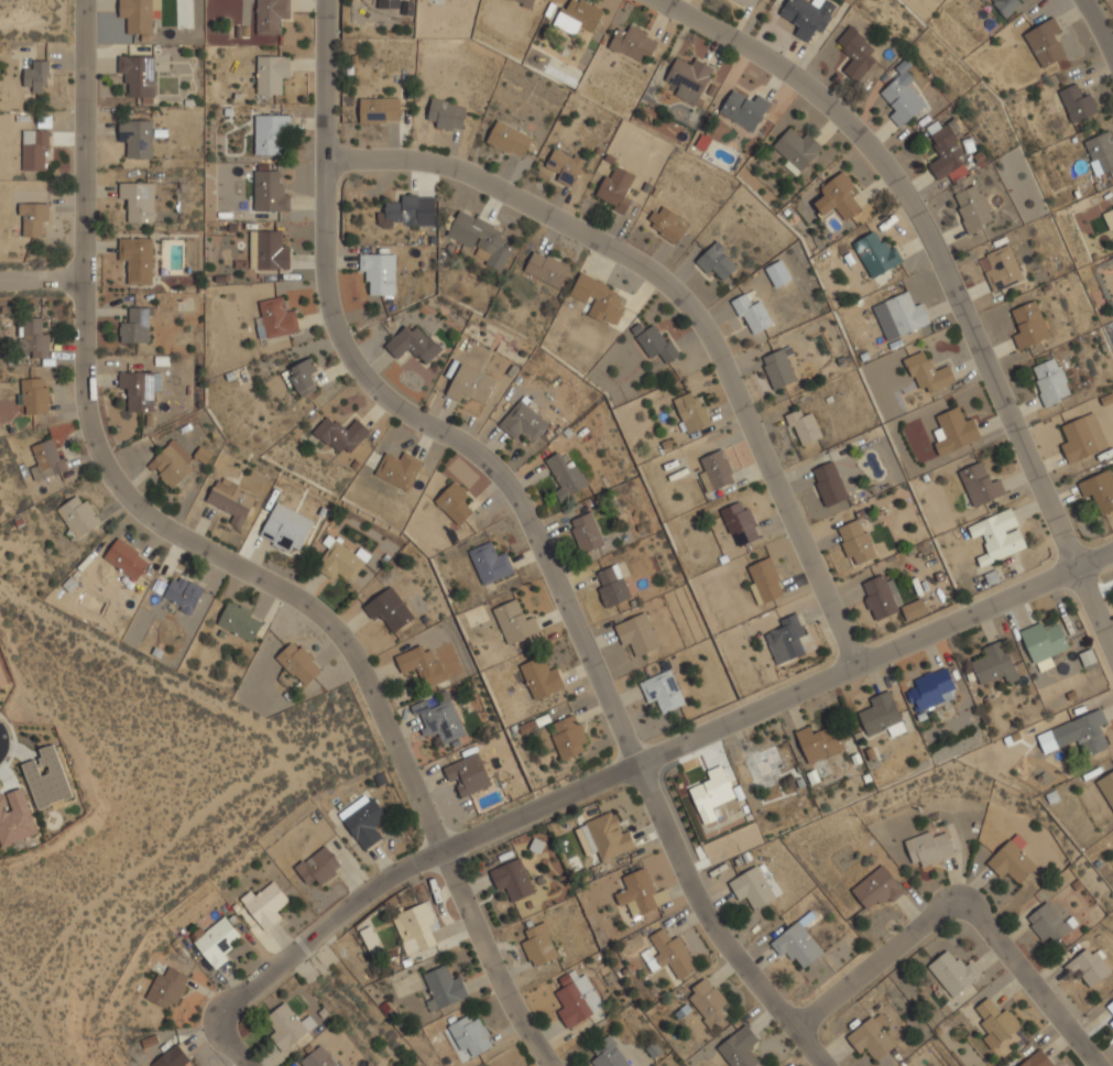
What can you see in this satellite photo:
building: (524, 2)
building: (748, 2)
building: (1005, 4)
building: (388, 6)
building: (138, 14)
building: (270, 15)
building: (810, 15)
building: (576, 17)
road: (1098, 28)
building: (1044, 42)
building: (633, 43)
building: (854, 52)
building: (270, 73)
building: (138, 74)
building: (36, 76)
building: (688, 78)
building: (901, 99)
building: (1076, 102)
building: (378, 109)
building: (743, 109)
building: (444, 113)
building: (266, 132)
building: (135, 137)
building: (508, 139)
building: (795, 149)
building: (34, 150)
building: (943, 151)
building: (1099, 152)
building: (564, 165)
building: (613, 188)
building: (269, 192)
building: (837, 196)
building: (137, 199)
building: (1112, 204)
building: (971, 208)
building: (401, 210)
building: (33, 218)
building: (1109, 218)
building: (663, 222)
building: (479, 238)
building: (268, 250)
building: (875, 253)
building: (137, 259)
building: (716, 261)
building: (545, 268)
building: (1001, 268)
building: (378, 271)
building: (776, 273)
road: (945, 275)
road: (41, 279)
building: (597, 296)
road: (687, 303)
building: (750, 313)
building: (906, 313)
building: (275, 318)
building: (133, 325)
building: (1028, 325)
building: (34, 338)
building: (411, 344)
building: (655, 344)
building: (777, 368)
building: (927, 373)
building: (303, 376)
building: (1049, 381)
building: (469, 388)
building: (139, 390)
building: (34, 396)
building: (690, 411)
building: (521, 422)
building: (801, 426)
building: (953, 431)
building: (340, 434)
building: (1081, 437)
building: (46, 459)
building: (173, 464)
building: (397, 469)
building: (714, 470)
building: (565, 477)
building: (827, 482)
building: (979, 485)
building: (1099, 490)
building: (230, 499)
building: (452, 502)
building: (78, 516)
building: (739, 523)
road: (535, 526)
building: (285, 529)
building: (585, 532)
building: (996, 535)
building: (854, 542)
building: (340, 557)
road: (221, 558)
building: (126, 559)
building: (489, 563)
building: (763, 580)
building: (610, 585)
building: (183, 595)
building: (886, 598)
building: (388, 608)
building: (239, 621)
building: (513, 622)
building: (635, 633)
building: (784, 640)
building: (1043, 643)
building: (298, 663)
building: (993, 663)
building: (421, 665)
building: (538, 677)
building: (930, 689)
building: (661, 690)
building: (881, 715)
building: (437, 720)
building: (1081, 732)
building: (567, 737)
building: (818, 742)
building: (761, 761)
road: (623, 770)
building: (466, 774)
building: (46, 777)
building: (1106, 787)
building: (710, 793)
building: (15, 817)
building: (362, 820)
building: (605, 837)
building: (928, 847)
building: (1011, 860)
building: (318, 867)
building: (511, 879)
building: (751, 886)
building: (876, 888)
building: (640, 893)
building: (265, 904)
road: (962, 912)
building: (1047, 922)
building: (415, 925)
building: (216, 942)
building: (796, 943)
building: (538, 945)
building: (668, 954)
building: (1088, 966)
building: (952, 972)
building: (166, 988)
building: (443, 988)
building: (576, 999)
building: (708, 1001)
building: (1111, 1007)
building: (995, 1020)
building: (1111, 1022)
building: (286, 1026)
building: (468, 1034)
building: (870, 1037)
building: (739, 1047)
building: (608, 1054)
building: (172, 1057)
building: (318, 1057)
building: (1036, 1059)
building: (915, 1065)

